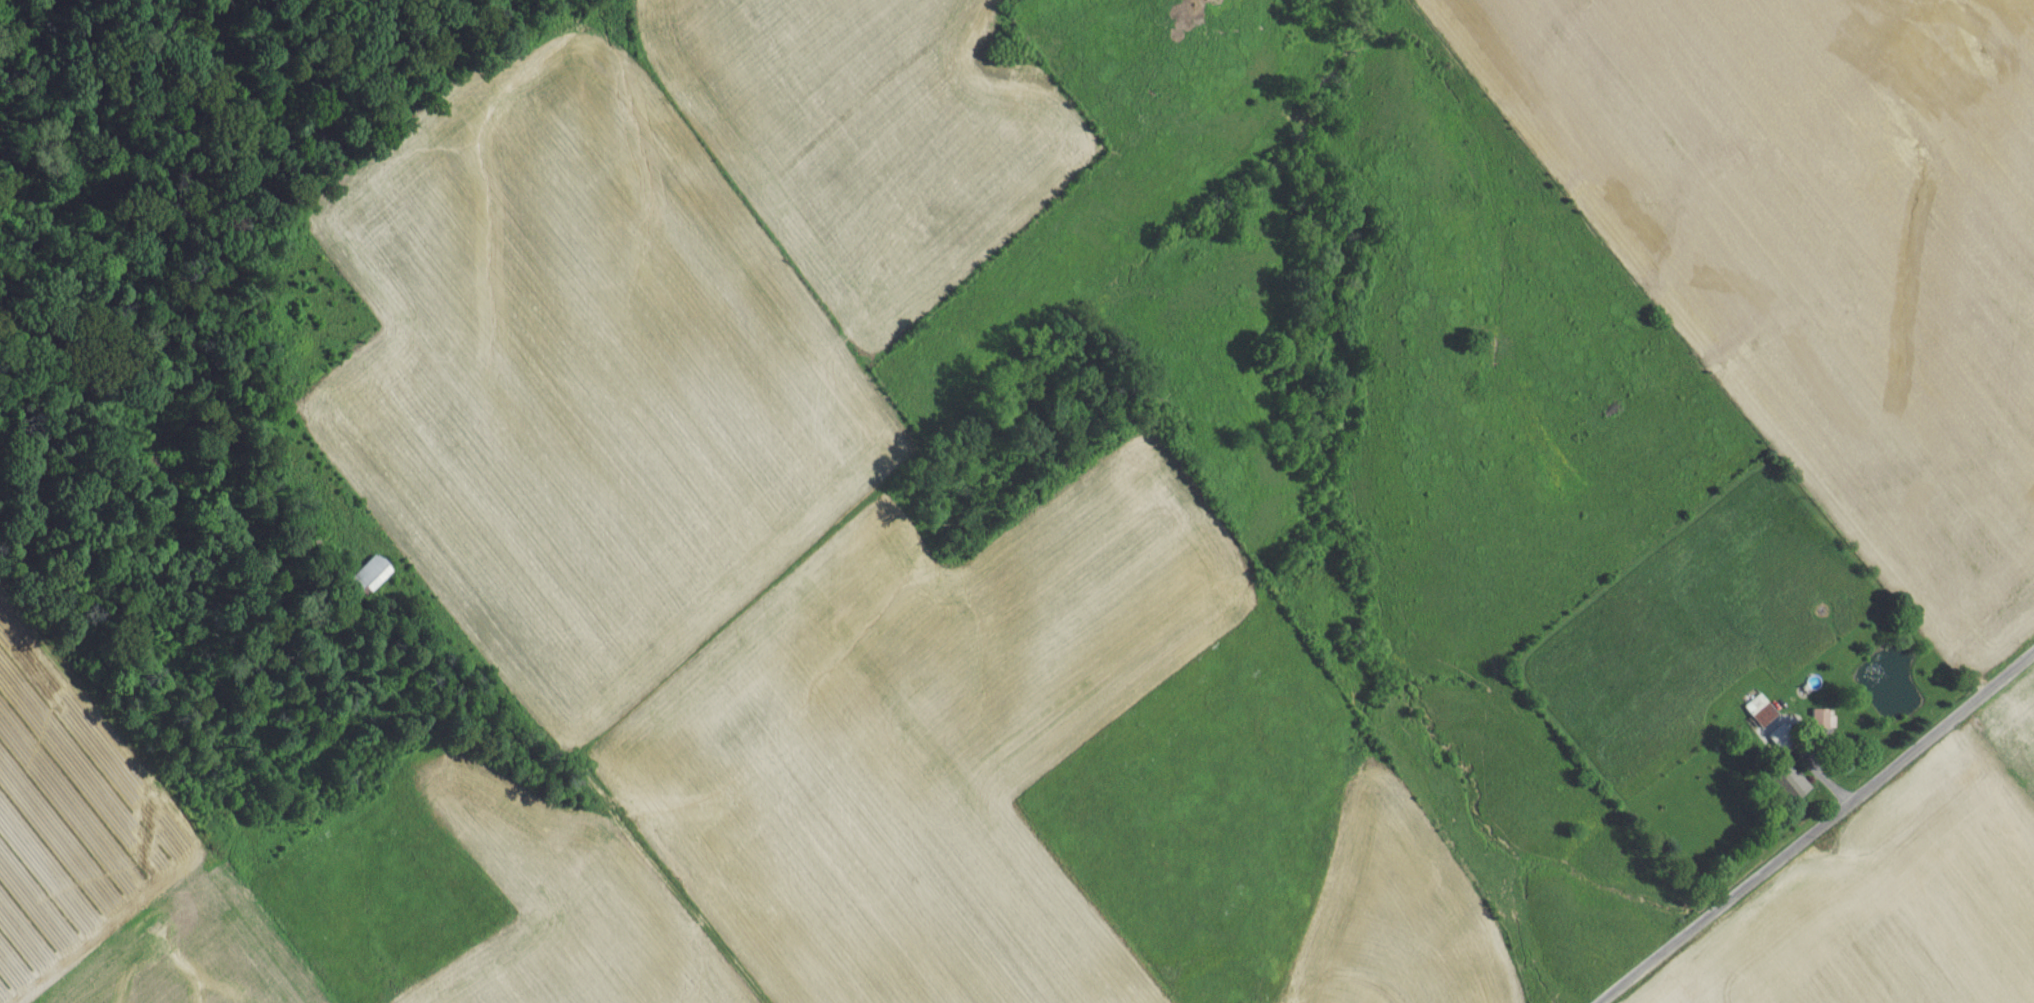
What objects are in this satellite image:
building: (368, 580)
building: (1821, 725)
building: (1786, 783)
road: (1813, 827)

